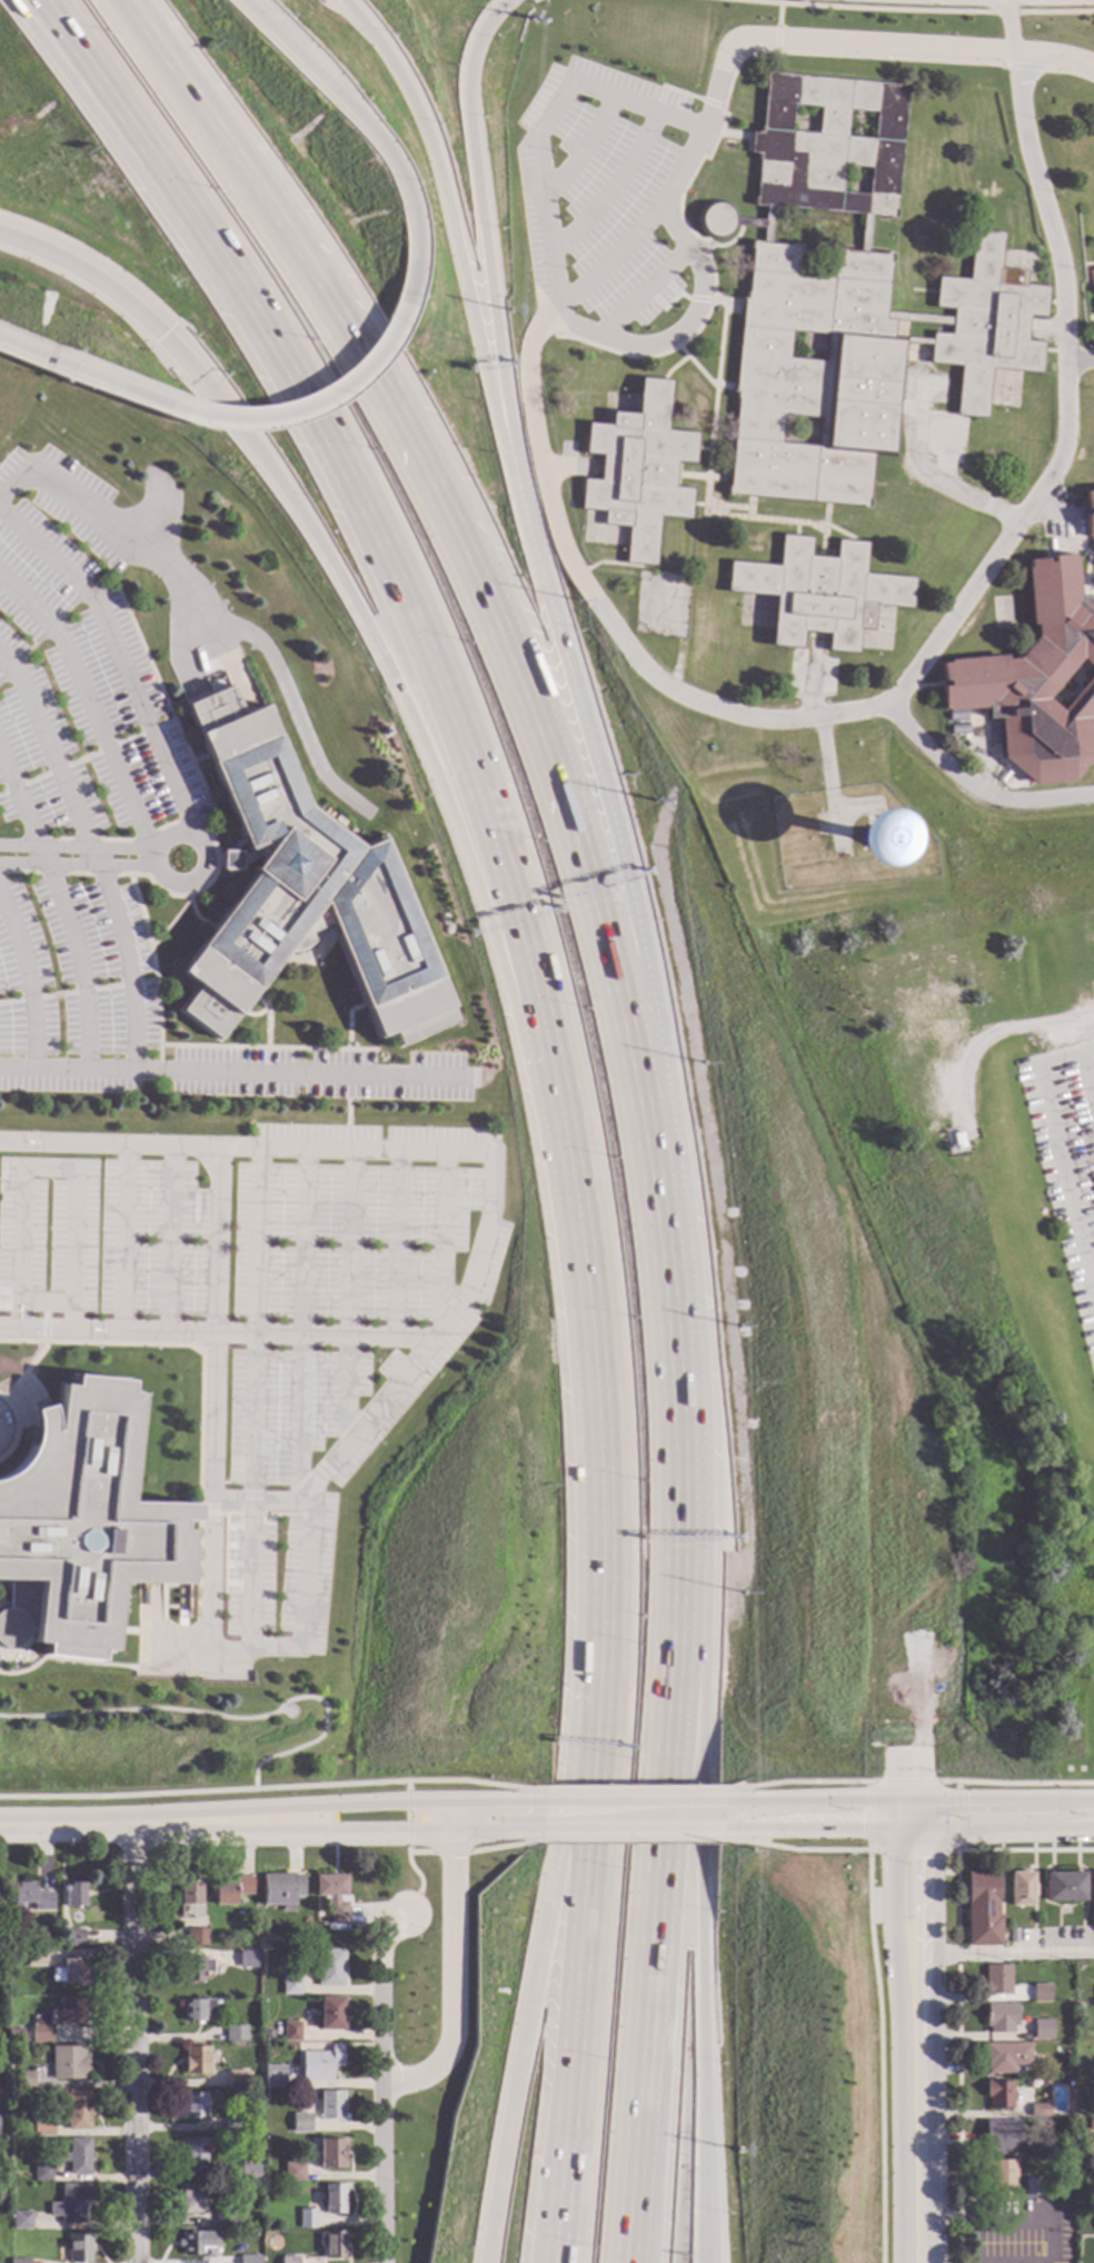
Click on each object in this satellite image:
road: (535, 0)
road: (862, 9)
road: (1054, 12)
road: (1003, 13)
road: (778, 16)
power tower: (531, 21)
road: (1007, 28)
road: (776, 39)
road: (891, 46)
road: (96, 107)
road: (112, 107)
road: (537, 120)
road: (375, 141)
road: (578, 156)
road: (440, 168)
road: (475, 172)
parking lot: (604, 190)
road: (606, 192)
road: (629, 238)
building: (1091, 281)
road: (1058, 291)
road: (643, 292)
building: (1093, 305)
building: (847, 307)
power tower: (510, 311)
road: (683, 327)
traffic signals: (165, 335)
road: (1077, 361)
road: (90, 373)
road: (307, 407)
building: (637, 472)
road: (424, 476)
building: (1088, 515)
road: (113, 533)
road: (342, 590)
building: (818, 594)
power tower: (577, 602)
road: (955, 613)
road: (412, 615)
road: (621, 639)
parking lot: (81, 654)
road: (118, 657)
road: (570, 677)
building: (1036, 682)
road: (89, 704)
road: (48, 752)
road: (976, 784)
power tower: (656, 802)
water tower: (865, 833)
road: (77, 847)
road: (152, 862)
road: (76, 866)
building: (301, 891)
road: (61, 909)
road: (122, 957)
road: (27, 981)
parking lot: (72, 989)
road: (998, 1032)
power tower: (705, 1064)
road: (233, 1072)
parking lot: (324, 1073)
road: (347, 1113)
road: (1057, 1141)
building: (953, 1142)
road: (493, 1155)
parking lot: (1066, 1162)
road: (49, 1173)
parking lot: (48, 1235)
road: (445, 1237)
road: (126, 1238)
road: (171, 1239)
parking lot: (161, 1241)
road: (400, 1244)
road: (674, 1268)
road: (350, 1299)
road: (302, 1321)
power tower: (743, 1327)
road: (218, 1332)
parking lot: (330, 1354)
road: (256, 1399)
road: (601, 1410)
road: (1, 1425)
road: (215, 1429)
building: (80, 1525)
power tower: (747, 1594)
road: (300, 1612)
building: (180, 1616)
road: (226, 1718)
road: (906, 1766)
road: (799, 1783)
road: (1015, 1785)
road: (275, 1788)
road: (642, 1788)
road: (899, 1793)
road: (916, 1793)
road: (993, 1802)
road: (636, 1803)
road: (813, 1803)
traffic signals: (966, 1803)
road: (494, 1804)
road: (289, 1809)
road: (406, 1814)
road: (893, 1815)
road: (925, 1816)
road: (449, 1818)
road: (64, 1824)
road: (1077, 1826)
traffic signals: (861, 1827)
road: (814, 1828)
road: (909, 1828)
road: (334, 1830)
road: (636, 1830)
road: (1008, 1830)
road: (636, 1842)
road: (501, 1846)
road: (877, 1850)
road: (1025, 1850)
power tower: (752, 1852)
road: (419, 1853)
road: (449, 1853)
traffic signals: (925, 1858)
road: (419, 1879)
building: (1063, 1887)
building: (1093, 1887)
building: (230, 1889)
road: (894, 1889)
road: (925, 1889)
building: (1021, 1889)
building: (281, 1890)
building: (74, 1895)
building: (332, 1896)
building: (29, 1897)
road: (656, 1898)
road: (702, 1898)
building: (189, 1899)
building: (982, 1909)
building: (1007, 1917)
building: (1013, 1936)
building: (73, 1937)
building: (196, 1938)
road: (451, 1951)
road: (1002, 1956)
building: (34, 1958)
building: (247, 1958)
building: (195, 1967)
building: (329, 1968)
building: (69, 1972)
building: (996, 1981)
building: (290, 1985)
road: (876, 1988)
building: (1041, 1993)
building: (196, 2009)
road: (528, 2012)
building: (329, 2013)
road: (580, 2015)
building: (57, 2018)
building: (1001, 2018)
building: (1042, 2029)
building: (290, 2032)
building: (235, 2033)
building: (14, 2035)
building: (267, 2035)
road: (912, 2035)
road: (131, 2043)
building: (1005, 2057)
building: (196, 2061)
building: (68, 2063)
building: (319, 2064)
building: (273, 2075)
building: (1031, 2075)
building: (236, 2078)
building: (23, 2080)
road: (411, 2080)
road: (380, 2083)
road: (87, 2085)
building: (1001, 2095)
building: (193, 2105)
building: (330, 2106)
building: (78, 2111)
building: (1038, 2111)
building: (300, 2123)
building: (1090, 2124)
building: (42, 2126)
building: (232, 2126)
building: (1001, 2135)
power tower: (739, 2151)
building: (195, 2153)
building: (330, 2153)
building: (77, 2156)
building: (249, 2172)
building: (292, 2172)
building: (41, 2173)
building: (999, 2174)
building: (1066, 2185)
building: (1031, 2187)
road: (915, 2192)
building: (332, 2199)
building: (191, 2202)
building: (71, 2203)
building: (306, 2219)
building: (20, 2220)
building: (222, 2220)
road: (972, 2221)
building: (197, 2244)
building: (332, 2244)
building: (78, 2247)
building: (248, 2260)
building: (289, 2260)
building: (18, 2261)

